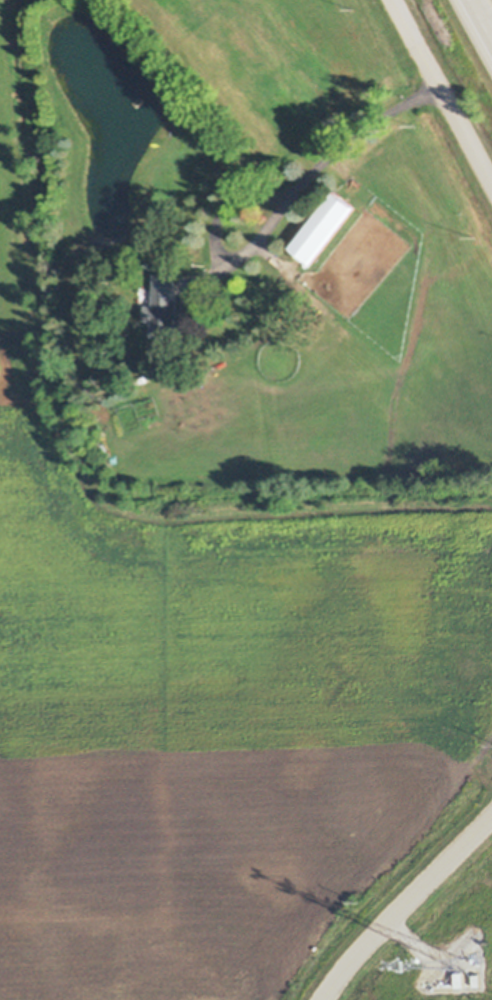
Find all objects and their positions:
road: (480, 20)
road: (442, 91)
building: (157, 122)
road: (333, 144)
building: (323, 227)
building: (141, 291)
building: (145, 297)
building: (163, 306)
road: (406, 907)
building: (474, 957)
building: (461, 979)
building: (477, 981)

